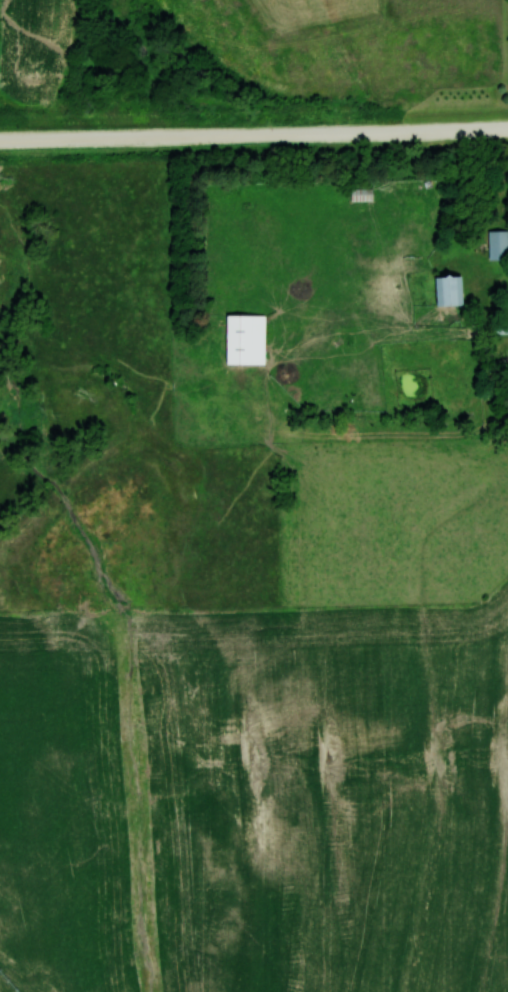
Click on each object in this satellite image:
road: (254, 133)
building: (497, 244)
building: (447, 289)
building: (244, 339)

